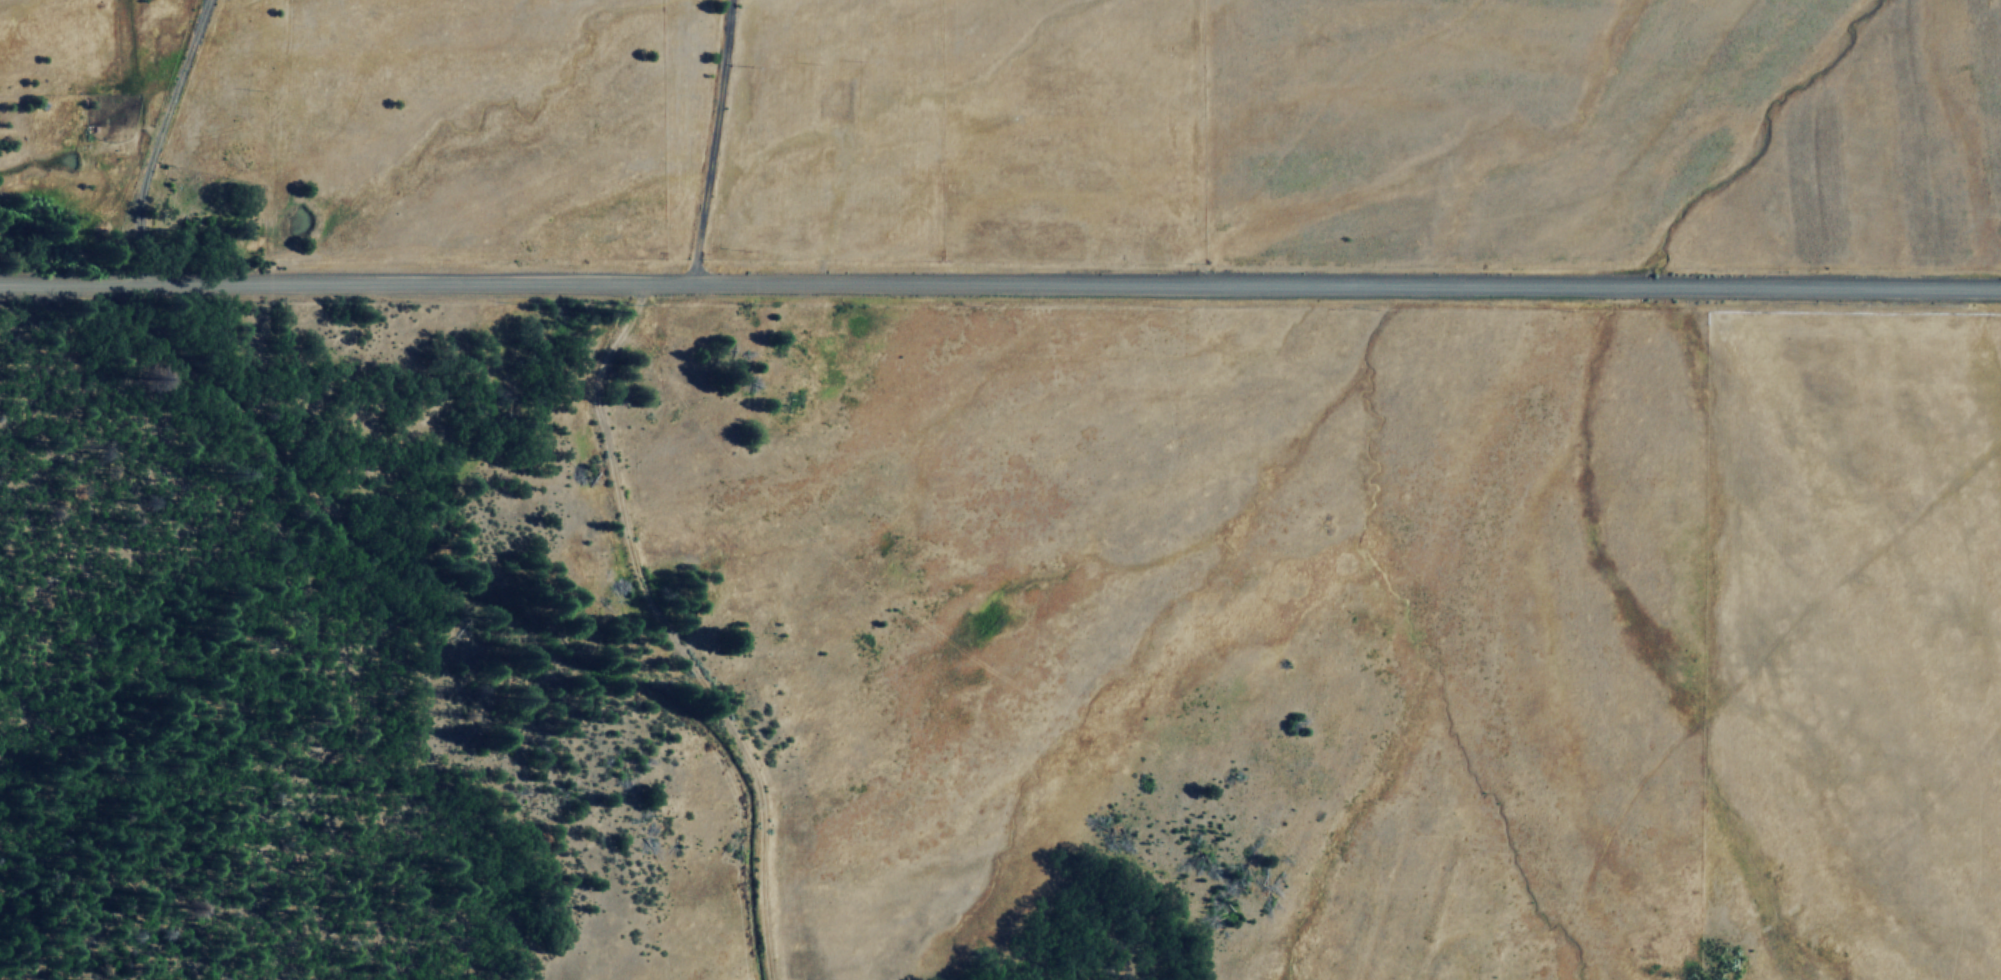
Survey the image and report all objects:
road: (148, 138)
road: (707, 143)
road: (1000, 283)

